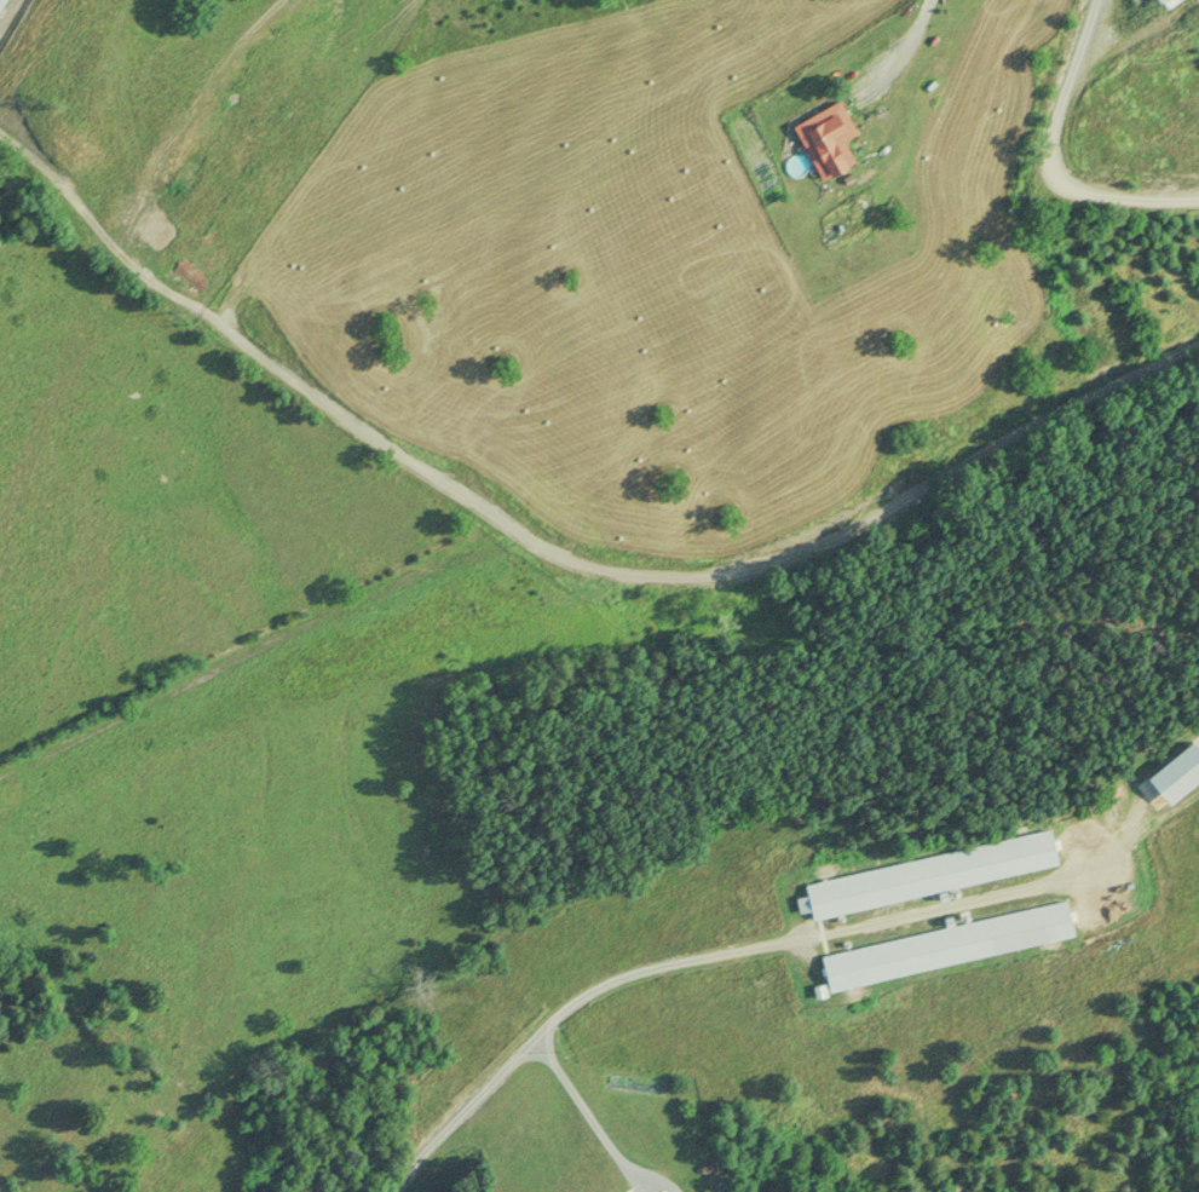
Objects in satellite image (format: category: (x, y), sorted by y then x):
building: (1155, 0)
building: (0, 1)
road: (901, 47)
building: (824, 138)
road: (1053, 160)
building: (1170, 773)
building: (926, 874)
building: (944, 945)
road: (566, 1010)
road: (586, 1118)

